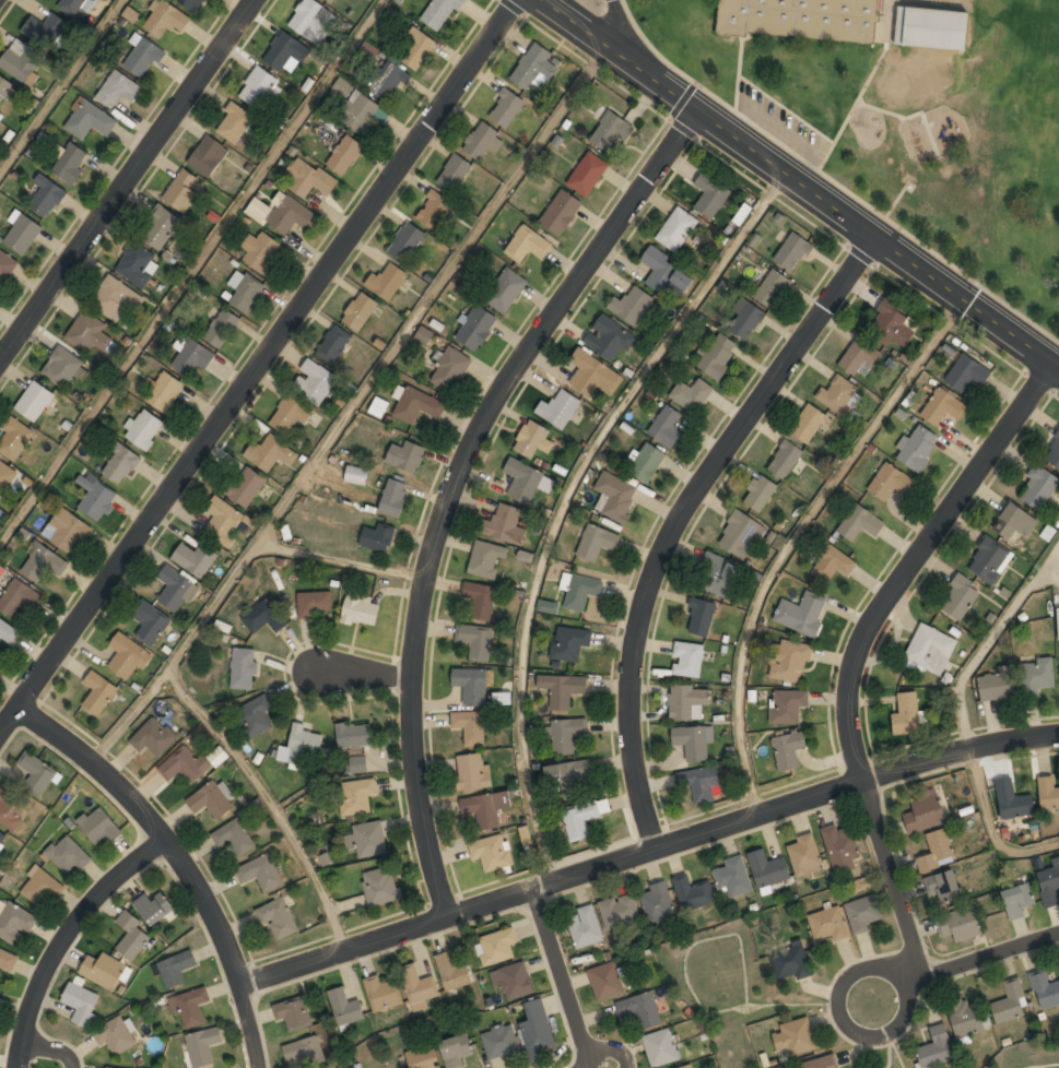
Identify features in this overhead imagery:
building: (330, 0)
building: (192, 3)
building: (71, 7)
building: (440, 13)
building: (310, 19)
building: (802, 19)
building: (164, 20)
building: (931, 28)
building: (45, 29)
building: (415, 49)
building: (285, 52)
building: (367, 52)
building: (142, 55)
building: (21, 64)
building: (533, 66)
building: (387, 81)
building: (259, 84)
building: (343, 86)
building: (4, 88)
road: (62, 88)
building: (118, 90)
building: (505, 108)
building: (360, 112)
building: (90, 120)
building: (234, 123)
building: (611, 131)
building: (480, 141)
building: (344, 155)
building: (208, 156)
park: (972, 157)
building: (71, 163)
building: (454, 173)
building: (588, 173)
building: (308, 178)
road: (804, 179)
road: (130, 181)
building: (183, 190)
building: (710, 193)
building: (46, 195)
building: (258, 210)
building: (434, 210)
building: (561, 212)
building: (287, 214)
building: (742, 214)
building: (160, 227)
building: (676, 230)
building: (22, 232)
building: (407, 240)
building: (528, 244)
building: (260, 250)
building: (792, 251)
building: (7, 264)
building: (134, 265)
building: (661, 269)
road: (191, 271)
building: (387, 281)
building: (772, 287)
building: (505, 289)
building: (245, 290)
building: (113, 299)
building: (632, 306)
building: (360, 311)
building: (745, 319)
building: (891, 324)
building: (475, 327)
building: (221, 328)
building: (91, 335)
building: (423, 335)
building: (610, 337)
building: (336, 342)
building: (190, 355)
building: (717, 356)
building: (859, 358)
building: (62, 368)
road: (263, 369)
building: (450, 369)
building: (966, 373)
building: (592, 376)
building: (315, 382)
building: (164, 392)
building: (691, 394)
building: (837, 394)
building: (34, 402)
road: (356, 405)
building: (415, 405)
building: (378, 407)
building: (942, 407)
building: (556, 411)
building: (289, 416)
building: (808, 424)
building: (666, 427)
building: (143, 429)
building: (14, 437)
building: (532, 440)
building: (917, 448)
building: (270, 453)
building: (1054, 453)
building: (405, 455)
building: (785, 460)
building: (647, 463)
building: (120, 464)
building: (356, 474)
building: (5, 476)
road: (458, 479)
building: (522, 480)
building: (890, 483)
building: (245, 486)
building: (1038, 489)
building: (760, 494)
building: (95, 497)
building: (393, 497)
building: (615, 497)
road: (567, 498)
road: (685, 519)
building: (223, 520)
building: (1014, 522)
building: (859, 523)
building: (505, 525)
building: (68, 531)
building: (741, 535)
road: (795, 536)
building: (378, 537)
building: (597, 542)
building: (487, 557)
building: (195, 559)
road: (346, 560)
building: (989, 560)
building: (43, 563)
building: (832, 565)
building: (2, 571)
road: (1050, 574)
building: (717, 575)
building: (175, 590)
building: (579, 590)
building: (20, 598)
building: (960, 598)
building: (480, 600)
building: (314, 604)
building: (548, 606)
building: (361, 609)
building: (802, 613)
building: (264, 616)
building: (701, 616)
building: (1058, 621)
building: (151, 622)
building: (7, 633)
road: (864, 640)
road: (989, 640)
building: (475, 641)
building: (569, 643)
building: (930, 650)
road: (386, 652)
building: (128, 655)
building: (689, 660)
building: (789, 662)
building: (243, 668)
building: (1036, 677)
building: (471, 685)
building: (996, 687)
building: (562, 690)
building: (98, 691)
building: (501, 698)
building: (687, 702)
building: (787, 705)
building: (907, 714)
building: (256, 715)
building: (469, 727)
building: (355, 735)
building: (566, 735)
building: (155, 737)
building: (691, 743)
building: (299, 746)
building: (788, 749)
building: (356, 764)
building: (185, 766)
building: (37, 772)
building: (472, 772)
building: (568, 776)
building: (699, 783)
building: (1048, 794)
building: (356, 797)
building: (211, 800)
road: (270, 803)
building: (1013, 803)
building: (12, 807)
building: (486, 808)
building: (925, 815)
building: (583, 818)
building: (98, 827)
road: (153, 827)
road: (991, 828)
building: (2, 836)
building: (233, 836)
building: (368, 840)
building: (840, 849)
building: (937, 851)
building: (492, 852)
building: (67, 855)
road: (646, 855)
building: (804, 856)
building: (767, 869)
building: (261, 873)
building: (732, 877)
building: (40, 886)
building: (1050, 886)
building: (380, 887)
building: (944, 888)
building: (692, 893)
building: (1016, 901)
building: (657, 904)
building: (153, 907)
building: (619, 911)
building: (863, 914)
building: (278, 917)
building: (14, 922)
building: (828, 924)
building: (958, 925)
building: (584, 928)
road: (63, 937)
building: (132, 937)
building: (496, 947)
road: (987, 959)
building: (7, 960)
building: (790, 962)
building: (174, 969)
building: (103, 971)
building: (452, 972)
road: (564, 978)
building: (515, 981)
building: (605, 982)
building: (417, 986)
building: (1044, 990)
building: (381, 994)
road: (840, 1000)
building: (81, 1004)
building: (1010, 1004)
building: (190, 1006)
building: (345, 1008)
building: (640, 1010)
building: (294, 1013)
building: (964, 1018)
road: (247, 1025)
building: (537, 1030)
building: (116, 1037)
building: (795, 1037)
building: (498, 1043)
road: (51, 1046)
building: (202, 1046)
building: (660, 1048)
building: (936, 1049)
building: (303, 1052)
building: (456, 1052)
building: (423, 1058)
building: (819, 1064)
road: (1042, 1065)
building: (352, 1067)
building: (687, 1067)

